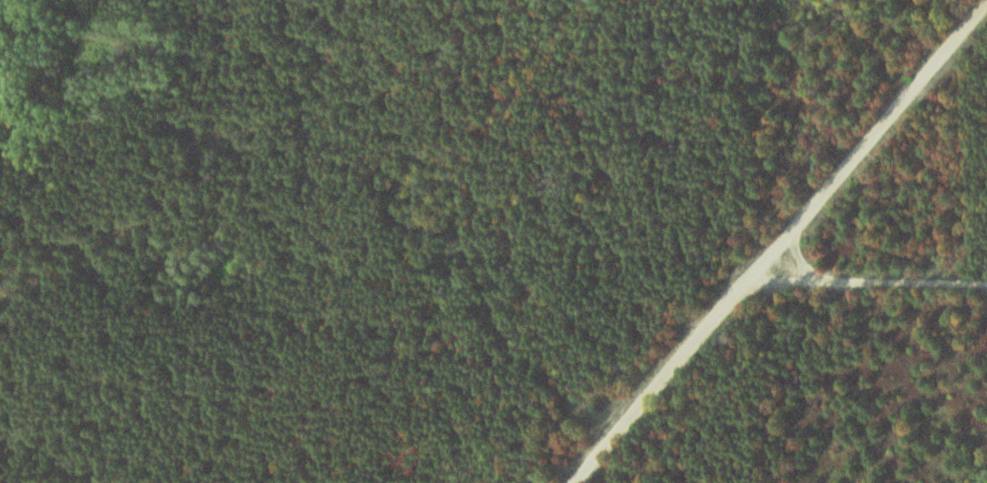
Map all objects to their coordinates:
road: (784, 238)
road: (872, 275)

